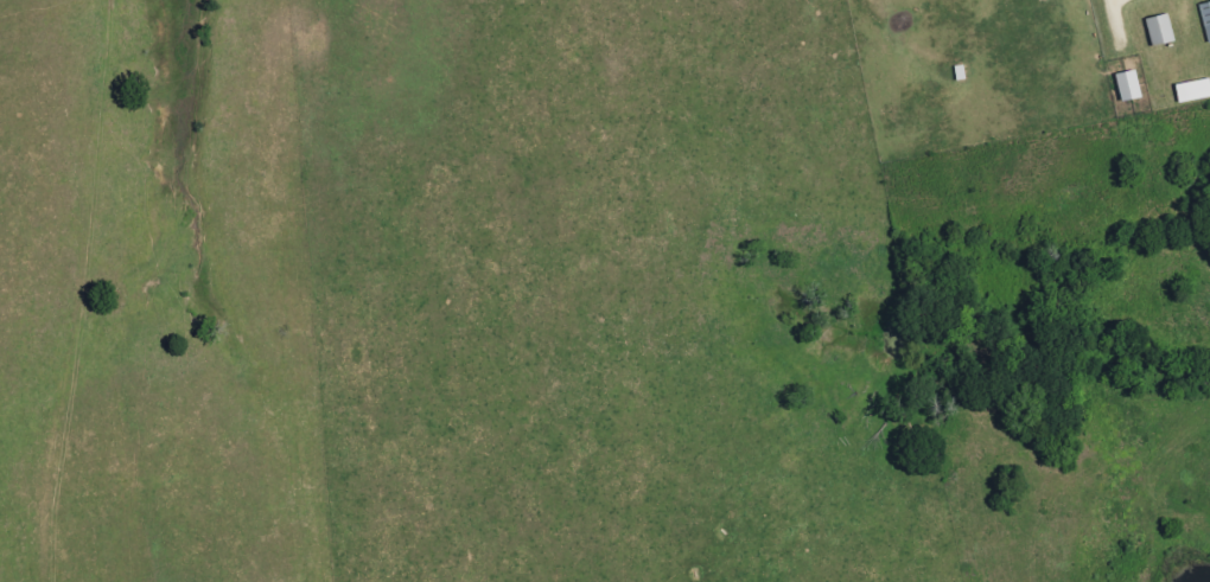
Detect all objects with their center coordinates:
building: (1159, 30)
building: (1127, 84)
building: (1192, 90)

